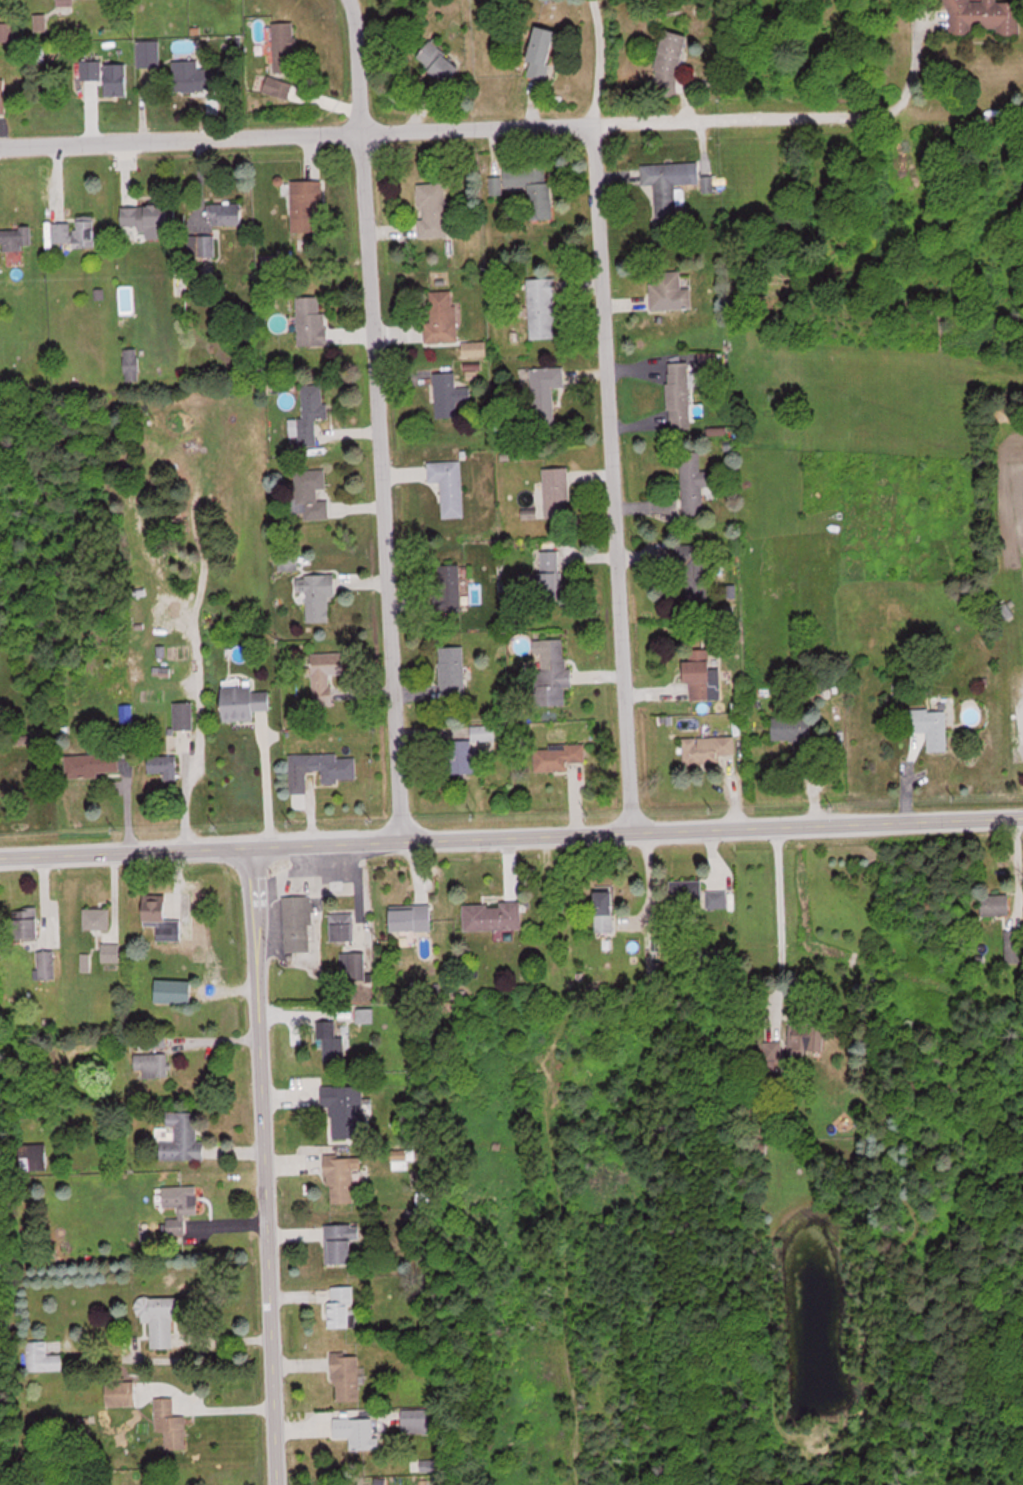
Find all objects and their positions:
building: (984, 15)
building: (7, 31)
building: (284, 46)
building: (541, 52)
building: (148, 53)
building: (669, 61)
building: (439, 62)
building: (91, 70)
building: (116, 76)
building: (195, 76)
building: (278, 87)
building: (2, 97)
road: (501, 124)
building: (495, 183)
building: (668, 183)
building: (532, 186)
building: (306, 205)
building: (433, 209)
building: (225, 212)
building: (148, 218)
building: (76, 231)
building: (15, 237)
building: (203, 244)
building: (273, 263)
building: (669, 291)
building: (541, 307)
building: (442, 316)
building: (311, 320)
building: (132, 364)
building: (545, 393)
building: (449, 395)
building: (679, 395)
road: (603, 413)
building: (309, 417)
road: (370, 418)
building: (692, 481)
building: (448, 485)
building: (556, 491)
building: (310, 494)
building: (695, 570)
building: (549, 573)
building: (450, 585)
building: (318, 594)
building: (1006, 610)
building: (452, 672)
building: (552, 673)
building: (700, 673)
building: (326, 674)
building: (244, 702)
building: (183, 724)
building: (932, 726)
building: (794, 730)
building: (709, 748)
building: (470, 750)
building: (558, 756)
building: (93, 764)
building: (163, 764)
building: (321, 768)
road: (268, 783)
road: (511, 832)
building: (687, 893)
building: (716, 898)
building: (996, 905)
building: (604, 911)
building: (493, 915)
building: (161, 916)
building: (96, 917)
building: (413, 918)
road: (780, 921)
building: (25, 922)
building: (298, 923)
building: (341, 926)
building: (1014, 946)
building: (111, 951)
building: (47, 964)
building: (353, 966)
building: (174, 991)
building: (808, 1038)
building: (335, 1049)
building: (152, 1064)
building: (344, 1111)
building: (182, 1138)
building: (33, 1157)
building: (398, 1159)
road: (257, 1165)
building: (342, 1177)
building: (179, 1205)
building: (340, 1242)
building: (341, 1305)
building: (160, 1318)
building: (42, 1356)
building: (346, 1375)
building: (120, 1391)
building: (417, 1419)
building: (170, 1422)
building: (359, 1431)

